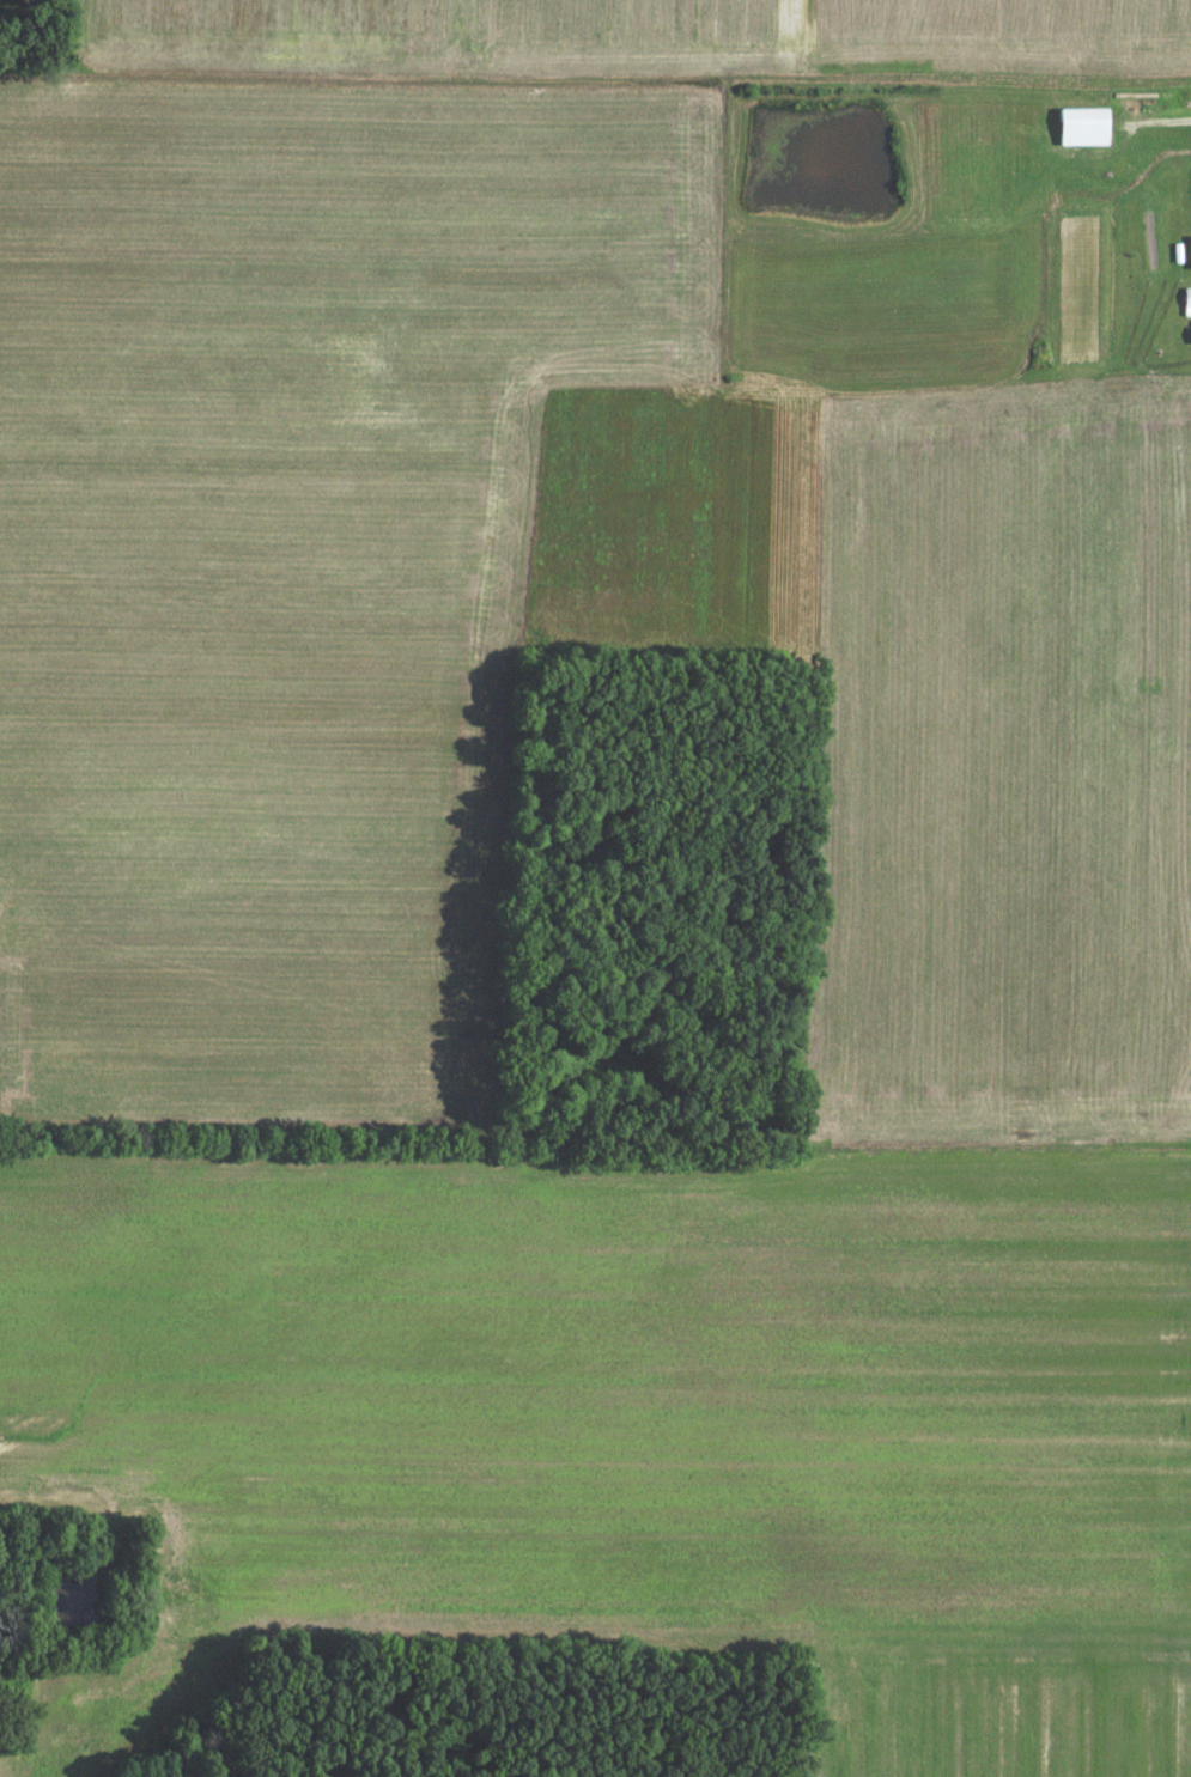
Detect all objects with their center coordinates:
building: (1076, 132)
building: (1186, 257)
building: (1184, 306)

